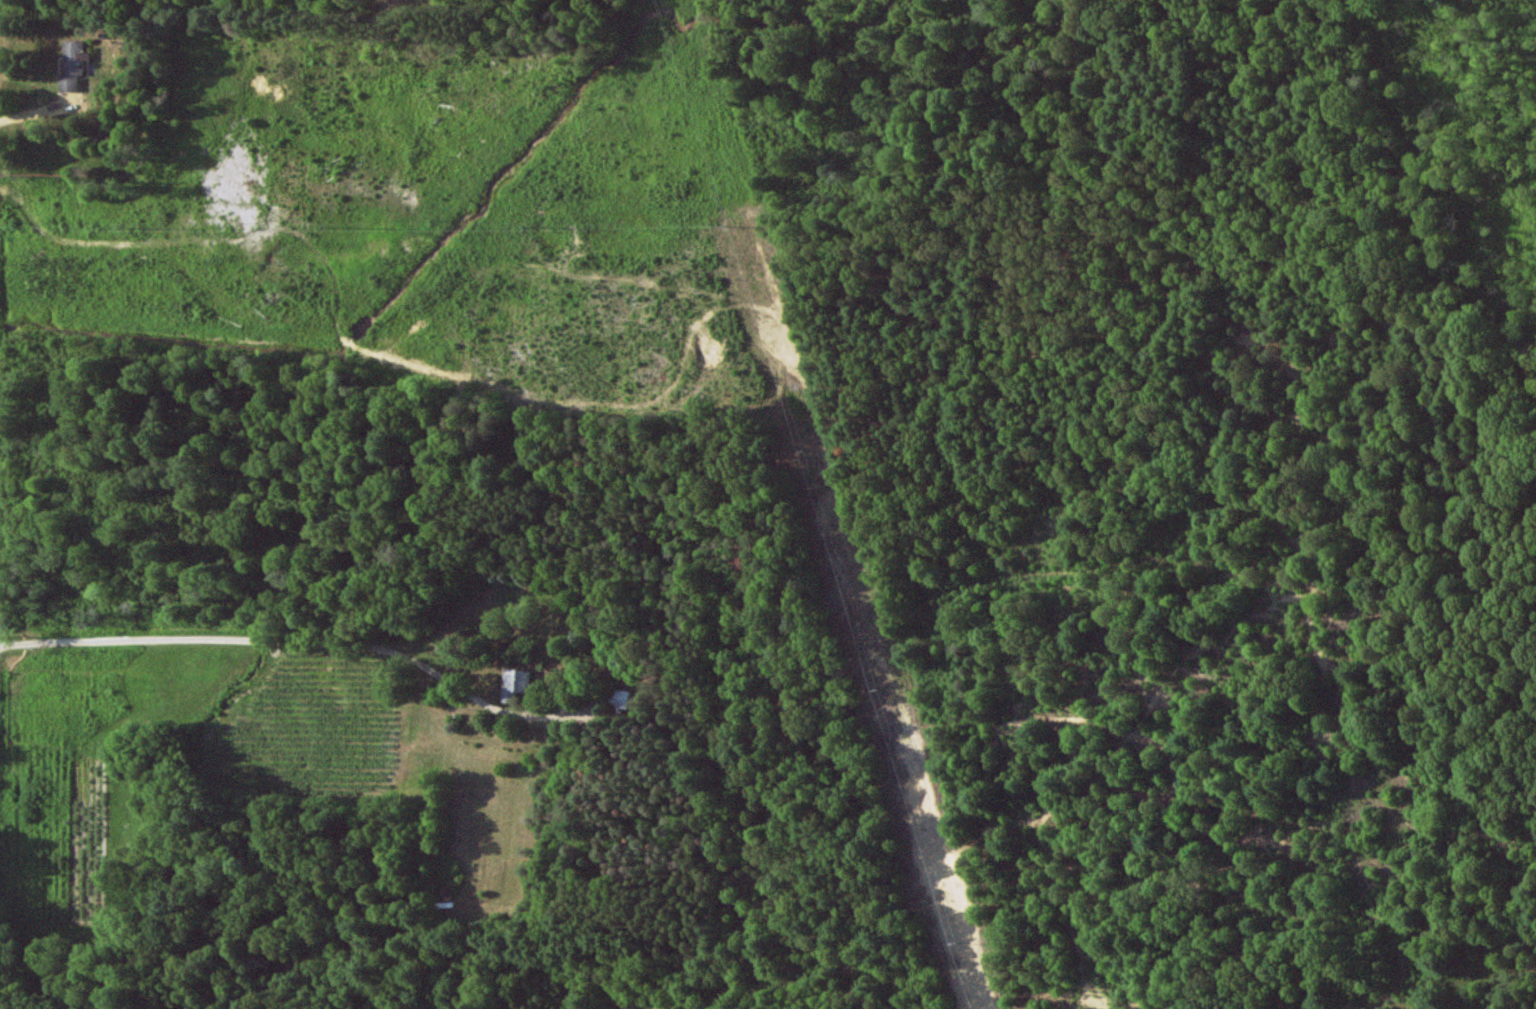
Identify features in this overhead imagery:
building: (73, 66)
road: (304, 645)
building: (516, 683)
building: (622, 699)

